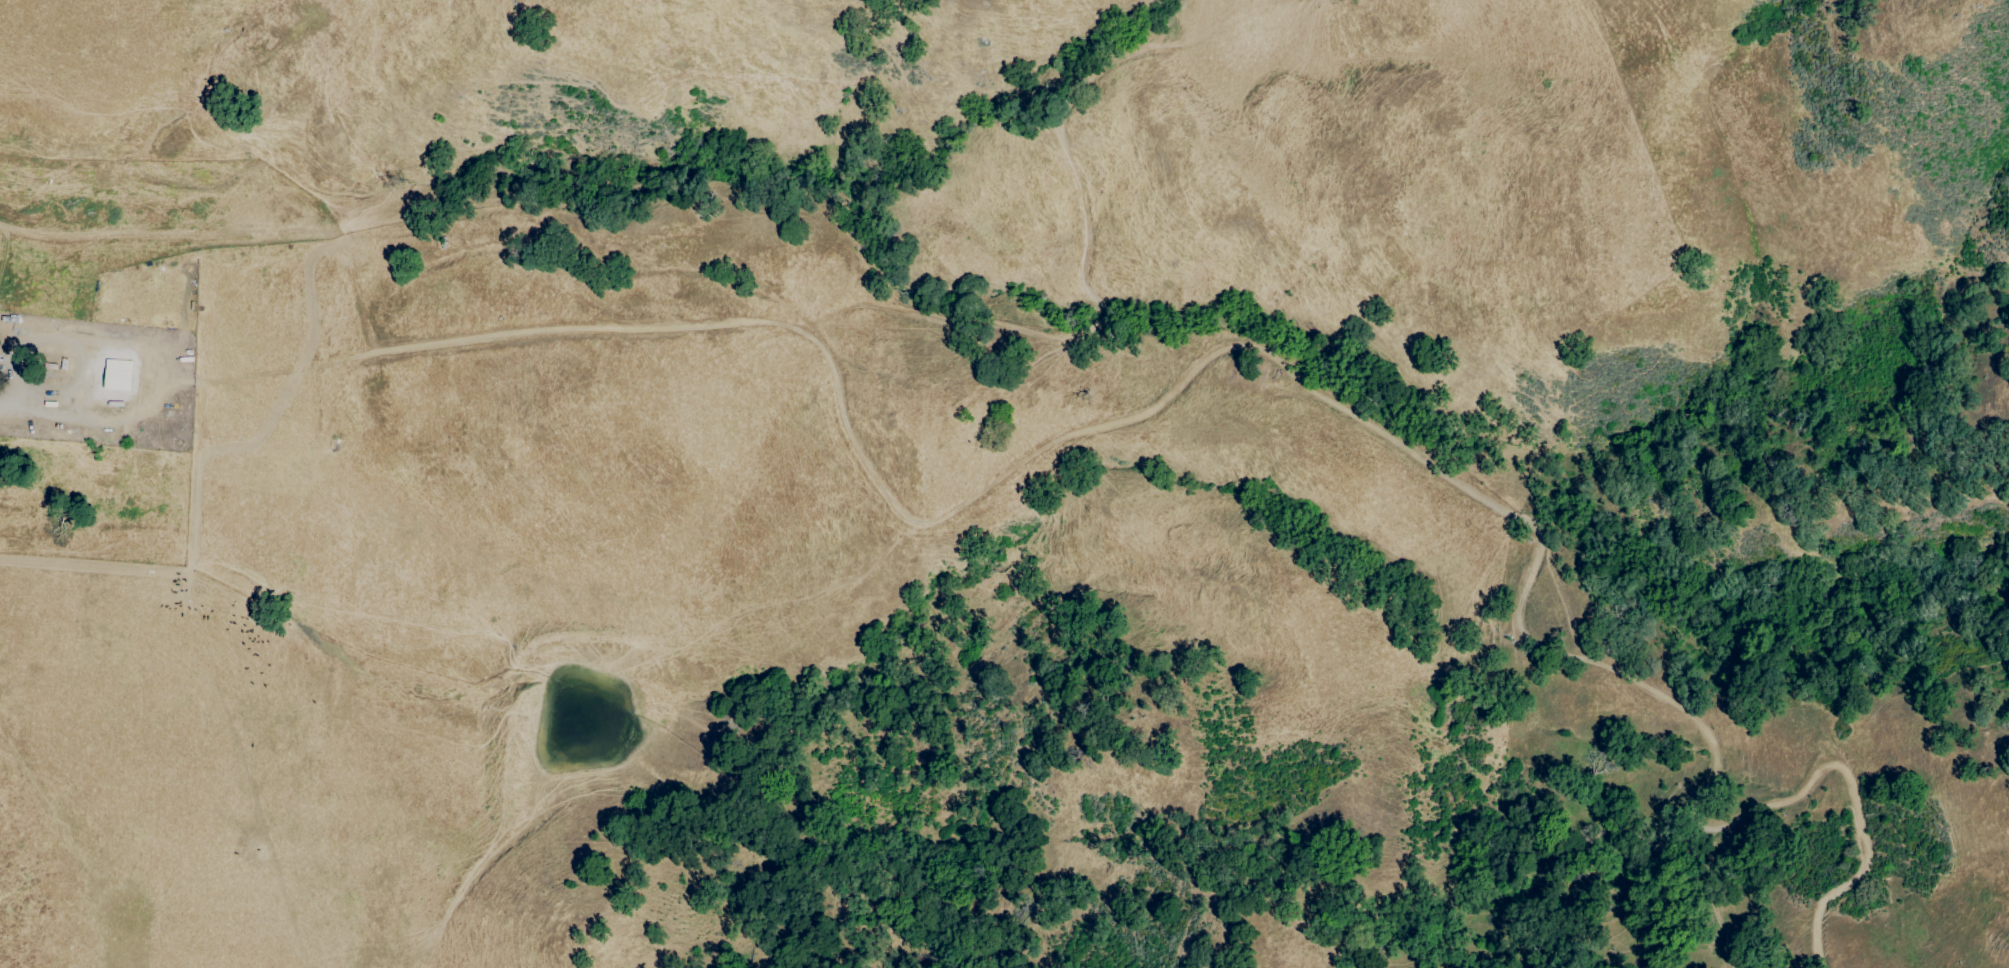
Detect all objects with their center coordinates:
road: (5, 249)
road: (1205, 358)
building: (115, 374)
road: (4, 404)

